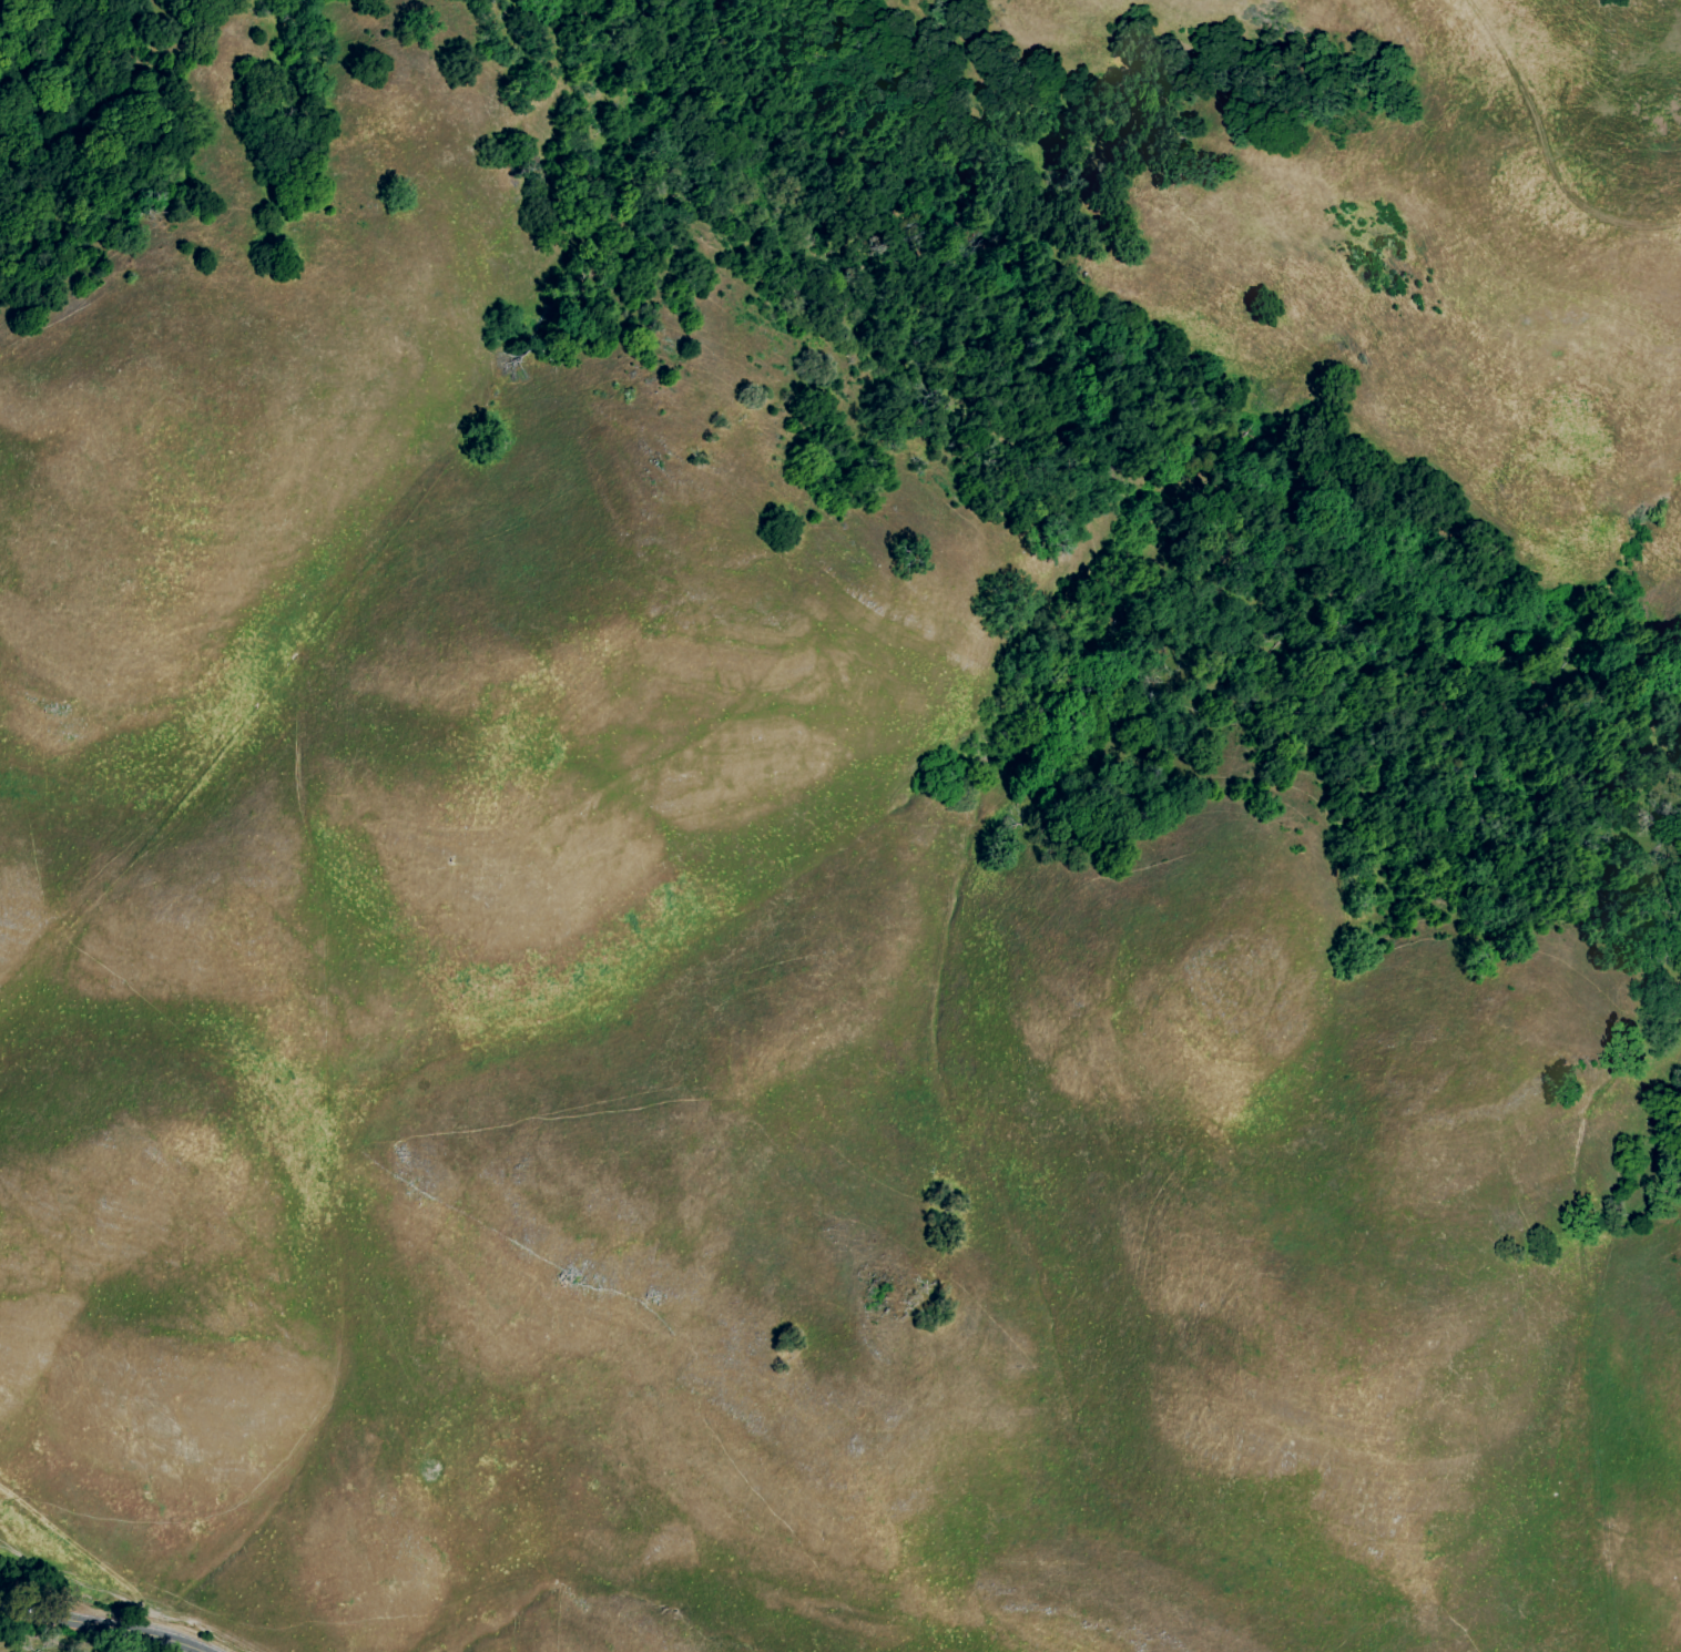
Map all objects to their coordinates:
road: (1540, 151)
road: (103, 1626)

